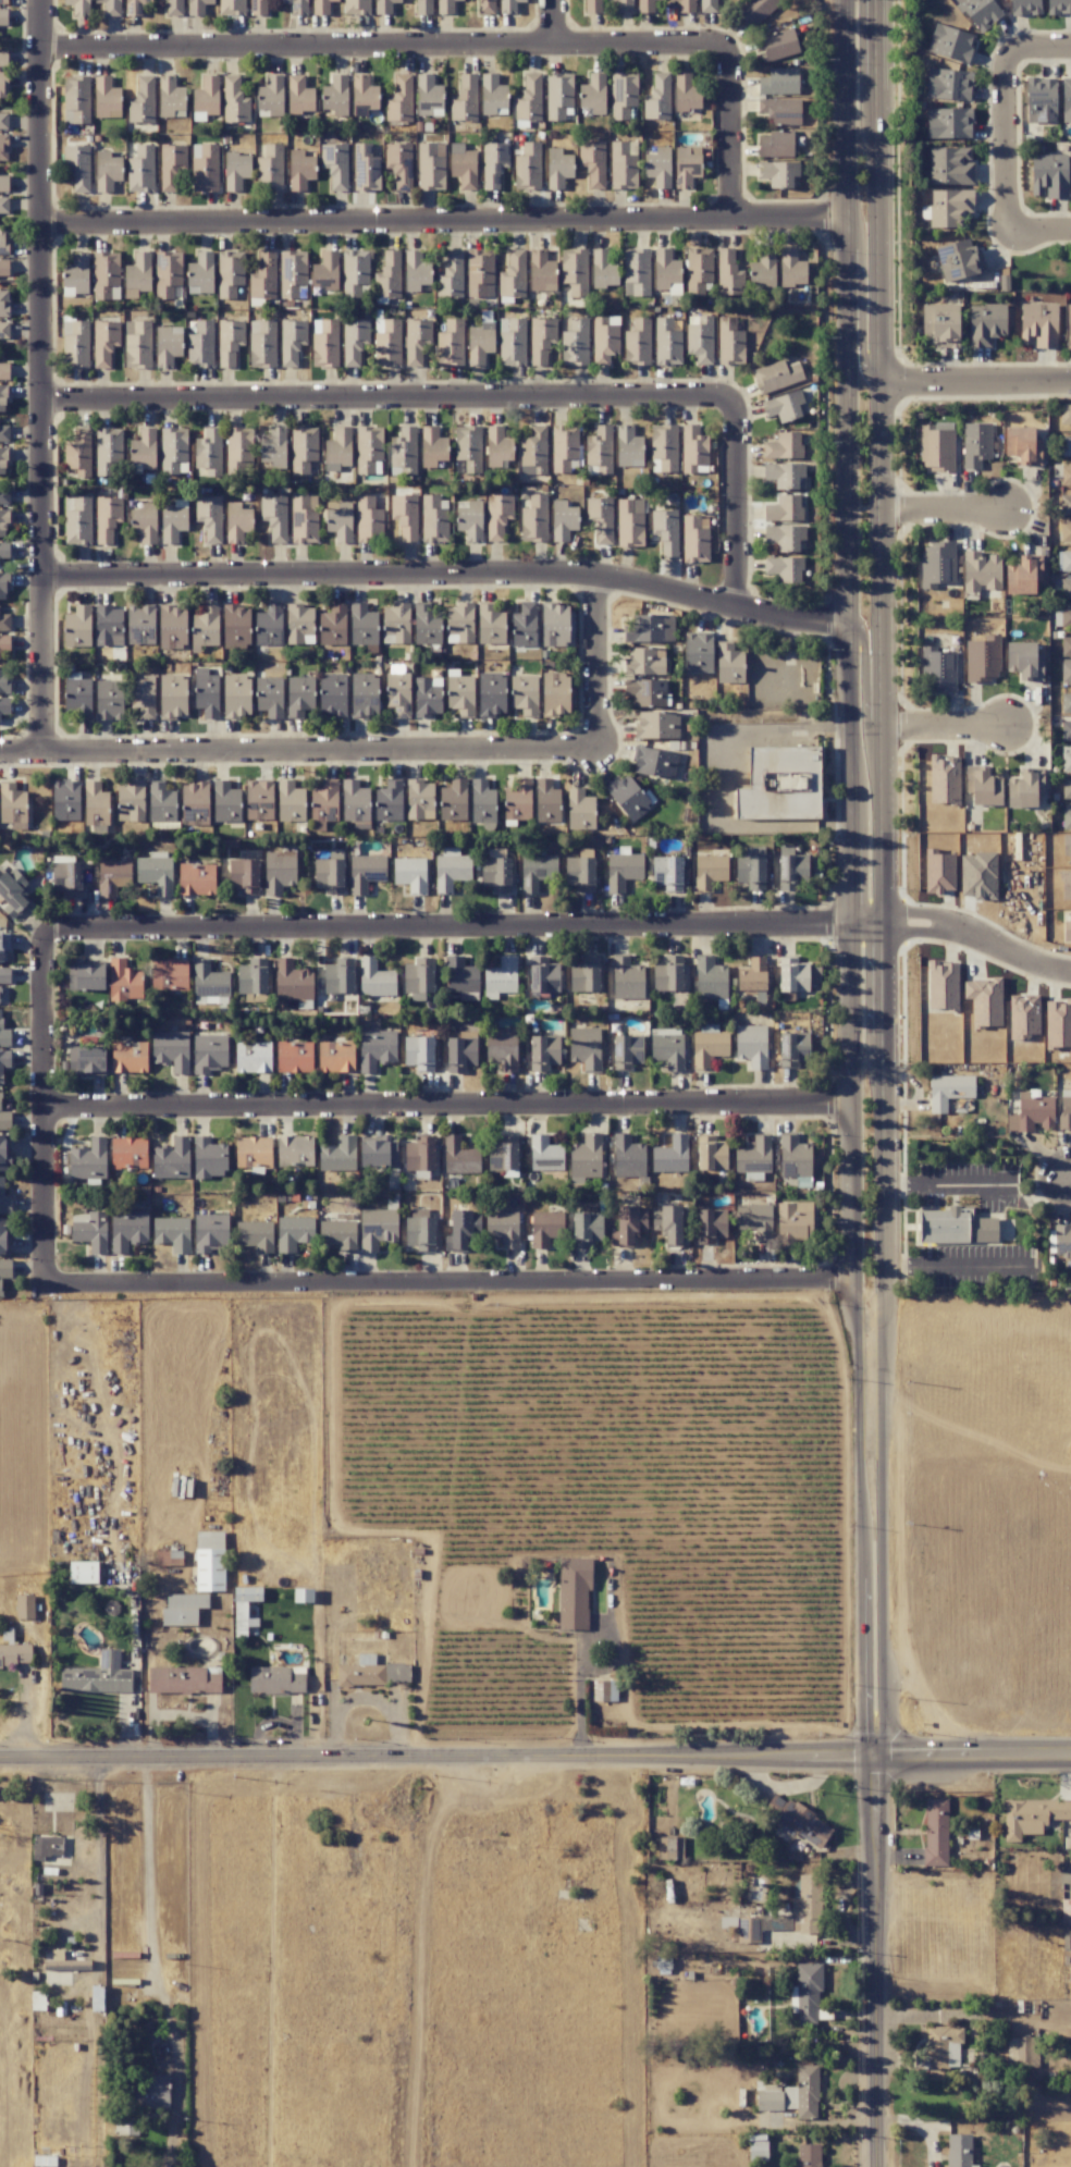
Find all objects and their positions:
building: (384, 5)
building: (508, 5)
building: (592, 5)
building: (645, 5)
building: (686, 5)
building: (709, 5)
building: (78, 7)
building: (110, 7)
building: (197, 7)
building: (232, 7)
building: (259, 7)
building: (296, 7)
building: (321, 7)
building: (357, 7)
building: (423, 7)
building: (445, 7)
building: (485, 7)
building: (1024, 7)
building: (1059, 7)
building: (133, 8)
building: (174, 8)
building: (754, 10)
building: (980, 12)
building: (2, 16)
road: (557, 23)
building: (781, 44)
building: (950, 44)
road: (386, 46)
road: (1041, 49)
building: (3, 58)
building: (778, 82)
building: (2, 84)
building: (948, 84)
building: (686, 91)
building: (364, 93)
building: (593, 93)
building: (206, 95)
building: (299, 95)
building: (335, 95)
building: (428, 95)
building: (492, 95)
building: (558, 95)
building: (623, 95)
building: (170, 97)
building: (270, 97)
building: (107, 98)
building: (657, 98)
building: (76, 99)
building: (399, 99)
building: (464, 99)
building: (529, 99)
building: (1039, 99)
building: (1066, 99)
building: (234, 100)
building: (143, 101)
building: (780, 111)
building: (3, 121)
building: (948, 123)
road: (729, 134)
road: (1011, 143)
building: (775, 144)
building: (3, 147)
building: (592, 163)
building: (399, 164)
building: (493, 164)
building: (623, 164)
building: (171, 165)
building: (335, 165)
building: (431, 165)
building: (687, 165)
building: (950, 165)
building: (77, 167)
building: (463, 167)
building: (205, 168)
building: (365, 168)
building: (527, 168)
building: (557, 168)
building: (657, 168)
building: (270, 169)
building: (140, 170)
building: (236, 170)
building: (300, 170)
building: (107, 171)
building: (778, 173)
building: (1048, 175)
building: (3, 183)
building: (3, 205)
building: (948, 207)
road: (442, 223)
road: (1042, 234)
building: (959, 260)
building: (665, 267)
building: (791, 268)
building: (76, 269)
building: (603, 269)
building: (698, 270)
building: (325, 271)
building: (416, 271)
building: (480, 271)
building: (541, 271)
building: (575, 271)
building: (762, 271)
building: (355, 272)
building: (636, 272)
building: (168, 273)
building: (200, 273)
building: (230, 273)
building: (292, 273)
building: (728, 273)
building: (137, 274)
building: (106, 275)
building: (389, 275)
building: (451, 275)
building: (513, 275)
building: (263, 276)
road: (859, 299)
building: (3, 304)
building: (986, 323)
building: (940, 324)
building: (1068, 324)
building: (1043, 325)
building: (4, 330)
building: (699, 338)
building: (541, 340)
building: (354, 341)
building: (416, 341)
building: (604, 341)
building: (104, 342)
building: (230, 342)
building: (512, 342)
building: (637, 342)
building: (666, 342)
building: (729, 342)
building: (262, 343)
building: (292, 343)
building: (324, 343)
building: (387, 343)
building: (479, 343)
building: (575, 343)
building: (75, 344)
building: (137, 344)
building: (450, 344)
building: (168, 345)
building: (201, 345)
road: (841, 364)
road: (876, 364)
building: (4, 371)
road: (41, 374)
building: (776, 375)
road: (974, 381)
building: (2, 397)
road: (390, 403)
building: (784, 406)
building: (1064, 415)
building: (3, 432)
building: (467, 443)
building: (976, 444)
building: (1022, 445)
building: (1064, 445)
building: (432, 446)
building: (497, 446)
building: (784, 446)
building: (936, 446)
building: (274, 447)
building: (338, 447)
building: (564, 447)
building: (628, 447)
building: (144, 448)
building: (238, 448)
building: (304, 448)
building: (368, 448)
building: (664, 448)
building: (693, 450)
building: (173, 451)
building: (403, 451)
building: (533, 451)
building: (599, 451)
building: (78, 452)
building: (109, 452)
building: (209, 452)
building: (2, 460)
building: (785, 475)
building: (1066, 475)
building: (4, 497)
building: (1066, 504)
road: (740, 506)
road: (943, 508)
building: (785, 509)
building: (497, 515)
building: (405, 516)
building: (210, 517)
building: (274, 517)
building: (107, 518)
building: (600, 518)
building: (304, 519)
building: (433, 519)
building: (534, 519)
building: (77, 520)
building: (173, 520)
building: (338, 520)
building: (368, 520)
building: (469, 520)
building: (563, 520)
building: (145, 522)
building: (237, 522)
building: (629, 522)
building: (3, 524)
building: (665, 531)
building: (1066, 531)
building: (785, 537)
building: (694, 539)
building: (4, 550)
building: (1066, 561)
building: (936, 564)
building: (784, 568)
building: (981, 571)
building: (1023, 575)
road: (447, 579)
building: (3, 586)
building: (1066, 588)
building: (1066, 616)
building: (4, 623)
building: (299, 624)
building: (396, 624)
building: (109, 625)
building: (332, 625)
building: (362, 625)
building: (490, 625)
building: (554, 625)
building: (205, 626)
building: (269, 626)
building: (524, 626)
building: (77, 627)
building: (235, 627)
building: (172, 628)
building: (4, 642)
building: (1066, 647)
building: (698, 653)
building: (983, 658)
building: (644, 661)
building: (1024, 661)
building: (729, 664)
road: (595, 665)
building: (938, 669)
building: (1066, 670)
road: (864, 674)
building: (645, 692)
building: (398, 693)
building: (555, 693)
building: (332, 694)
building: (364, 694)
building: (491, 694)
building: (525, 694)
building: (143, 695)
building: (172, 695)
building: (207, 695)
building: (236, 695)
building: (269, 695)
building: (299, 695)
building: (460, 695)
building: (109, 699)
building: (1066, 703)
building: (656, 725)
road: (945, 727)
building: (1066, 728)
road: (297, 749)
building: (1066, 759)
building: (654, 763)
building: (944, 780)
building: (778, 784)
building: (983, 786)
building: (1024, 788)
building: (1067, 788)
building: (195, 796)
building: (324, 796)
building: (518, 797)
building: (576, 797)
building: (628, 797)
building: (65, 800)
building: (290, 800)
building: (389, 800)
building: (453, 800)
building: (100, 801)
building: (131, 801)
building: (420, 801)
building: (12, 803)
building: (161, 803)
building: (546, 803)
building: (1066, 818)
building: (1067, 846)
building: (751, 869)
building: (451, 871)
building: (537, 871)
building: (623, 871)
building: (709, 871)
building: (791, 871)
building: (279, 872)
building: (366, 872)
building: (156, 873)
building: (667, 873)
building: (939, 873)
building: (410, 874)
building: (496, 874)
building: (580, 874)
building: (244, 875)
building: (329, 875)
building: (112, 876)
building: (196, 879)
building: (1066, 885)
building: (13, 892)
building: (1070, 924)
road: (461, 927)
road: (941, 929)
building: (3, 947)
road: (1006, 956)
building: (169, 974)
building: (667, 974)
building: (85, 975)
building: (418, 975)
building: (501, 975)
building: (543, 975)
building: (584, 975)
building: (792, 975)
building: (207, 977)
building: (461, 977)
building: (337, 978)
building: (374, 978)
building: (626, 978)
building: (293, 980)
building: (710, 980)
building: (124, 981)
building: (941, 985)
building: (1023, 1018)
building: (1058, 1024)
building: (3, 1034)
building: (751, 1046)
building: (667, 1047)
building: (709, 1047)
building: (584, 1048)
building: (793, 1048)
building: (376, 1049)
building: (171, 1050)
building: (543, 1051)
building: (626, 1051)
building: (210, 1052)
building: (419, 1052)
building: (460, 1054)
building: (294, 1056)
building: (335, 1056)
building: (128, 1057)
building: (253, 1057)
building: (86, 1060)
building: (948, 1091)
road: (447, 1105)
road: (48, 1109)
building: (1064, 1112)
building: (1032, 1113)
building: (4, 1119)
building: (295, 1150)
building: (378, 1152)
building: (3, 1153)
building: (128, 1153)
building: (419, 1153)
building: (754, 1154)
building: (338, 1155)
building: (670, 1155)
building: (711, 1155)
building: (459, 1157)
building: (627, 1157)
building: (795, 1157)
building: (209, 1158)
building: (584, 1158)
building: (88, 1159)
building: (171, 1159)
road: (946, 1183)
building: (4, 1199)
building: (754, 1220)
building: (793, 1222)
building: (668, 1224)
building: (710, 1224)
building: (628, 1226)
building: (956, 1227)
building: (377, 1228)
building: (503, 1228)
building: (545, 1228)
building: (89, 1230)
building: (127, 1230)
building: (461, 1230)
building: (210, 1232)
building: (172, 1233)
building: (294, 1233)
building: (420, 1233)
building: (338, 1234)
building: (4, 1235)
building: (255, 1235)
building: (1062, 1242)
road: (848, 1246)
road: (877, 1246)
building: (4, 1270)
road: (955, 1271)
road: (450, 1279)
road: (973, 1438)
building: (83, 1572)
building: (574, 1593)
building: (25, 1606)
building: (243, 1608)
building: (183, 1609)
building: (14, 1654)
road: (579, 1654)
building: (371, 1672)
building: (98, 1676)
building: (184, 1679)
building: (276, 1679)
building: (603, 1690)
road: (365, 1700)
road: (176, 1714)
road: (961, 1745)
road: (426, 1756)
road: (859, 1760)
road: (968, 1764)
road: (869, 1772)
road: (877, 1772)
building: (1031, 1817)
building: (936, 1832)
building: (47, 1846)
building: (669, 1848)
building: (805, 1906)
building: (1066, 1910)
road: (149, 1928)
road: (875, 1972)
building: (808, 1992)
building: (943, 2046)
building: (1024, 2053)
building: (149, 2092)
building: (792, 2094)
building: (124, 2126)
building: (758, 2150)
building: (959, 2151)
building: (809, 2155)

